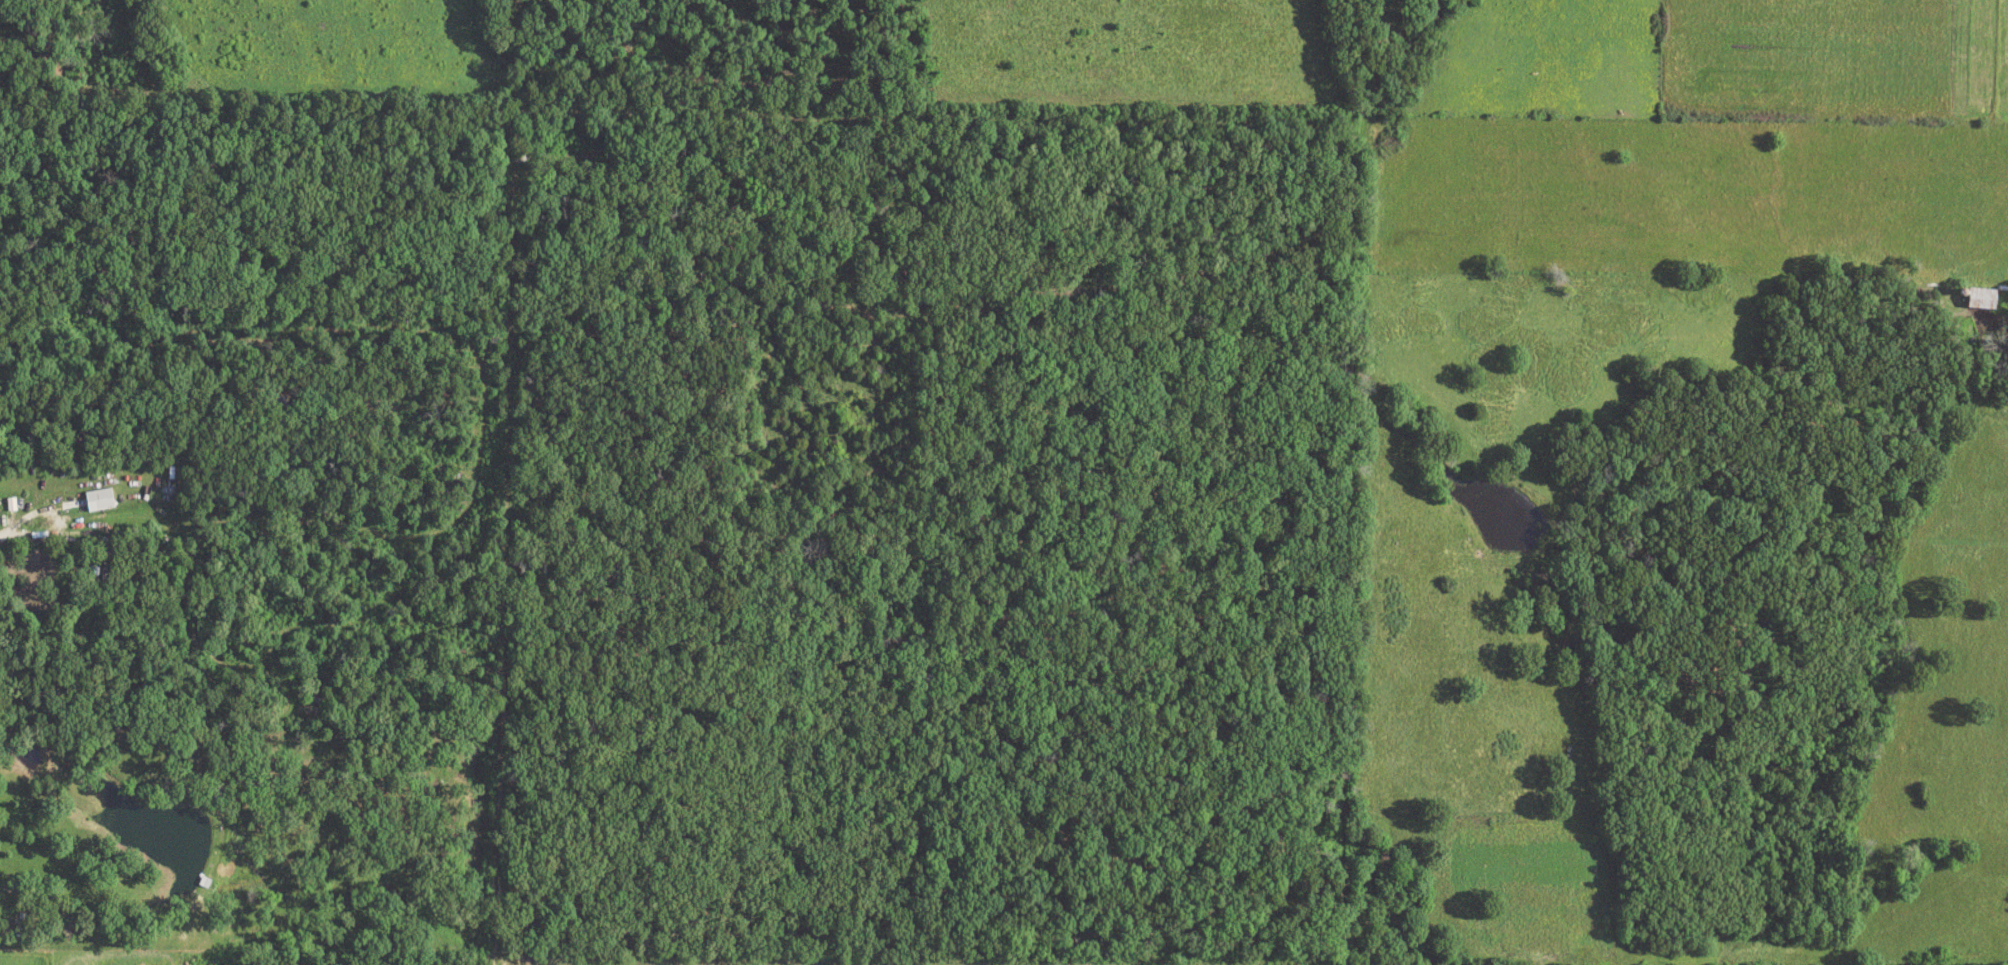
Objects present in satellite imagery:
road: (1953, 384)
building: (98, 500)
road: (31, 511)

